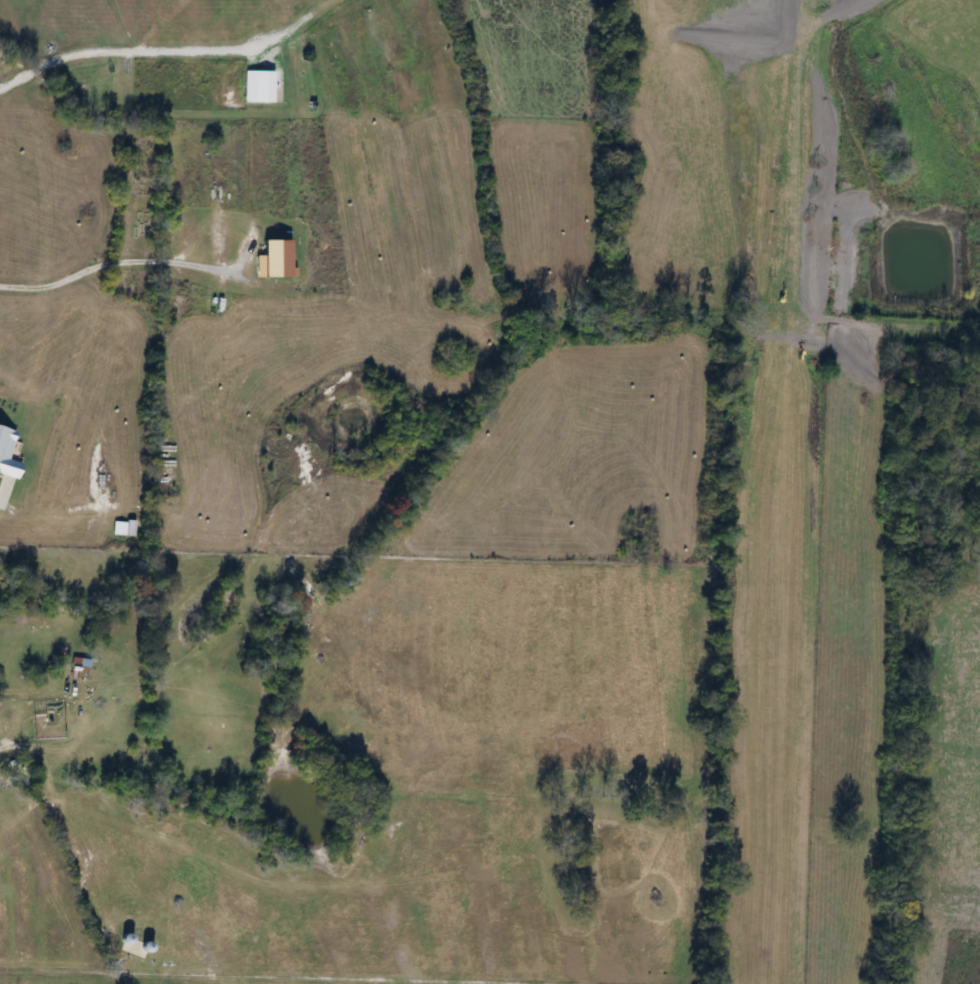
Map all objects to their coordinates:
building: (256, 87)
road: (121, 260)
building: (6, 454)
airport runway: (785, 498)
building: (121, 528)
building: (75, 668)
road: (59, 822)

